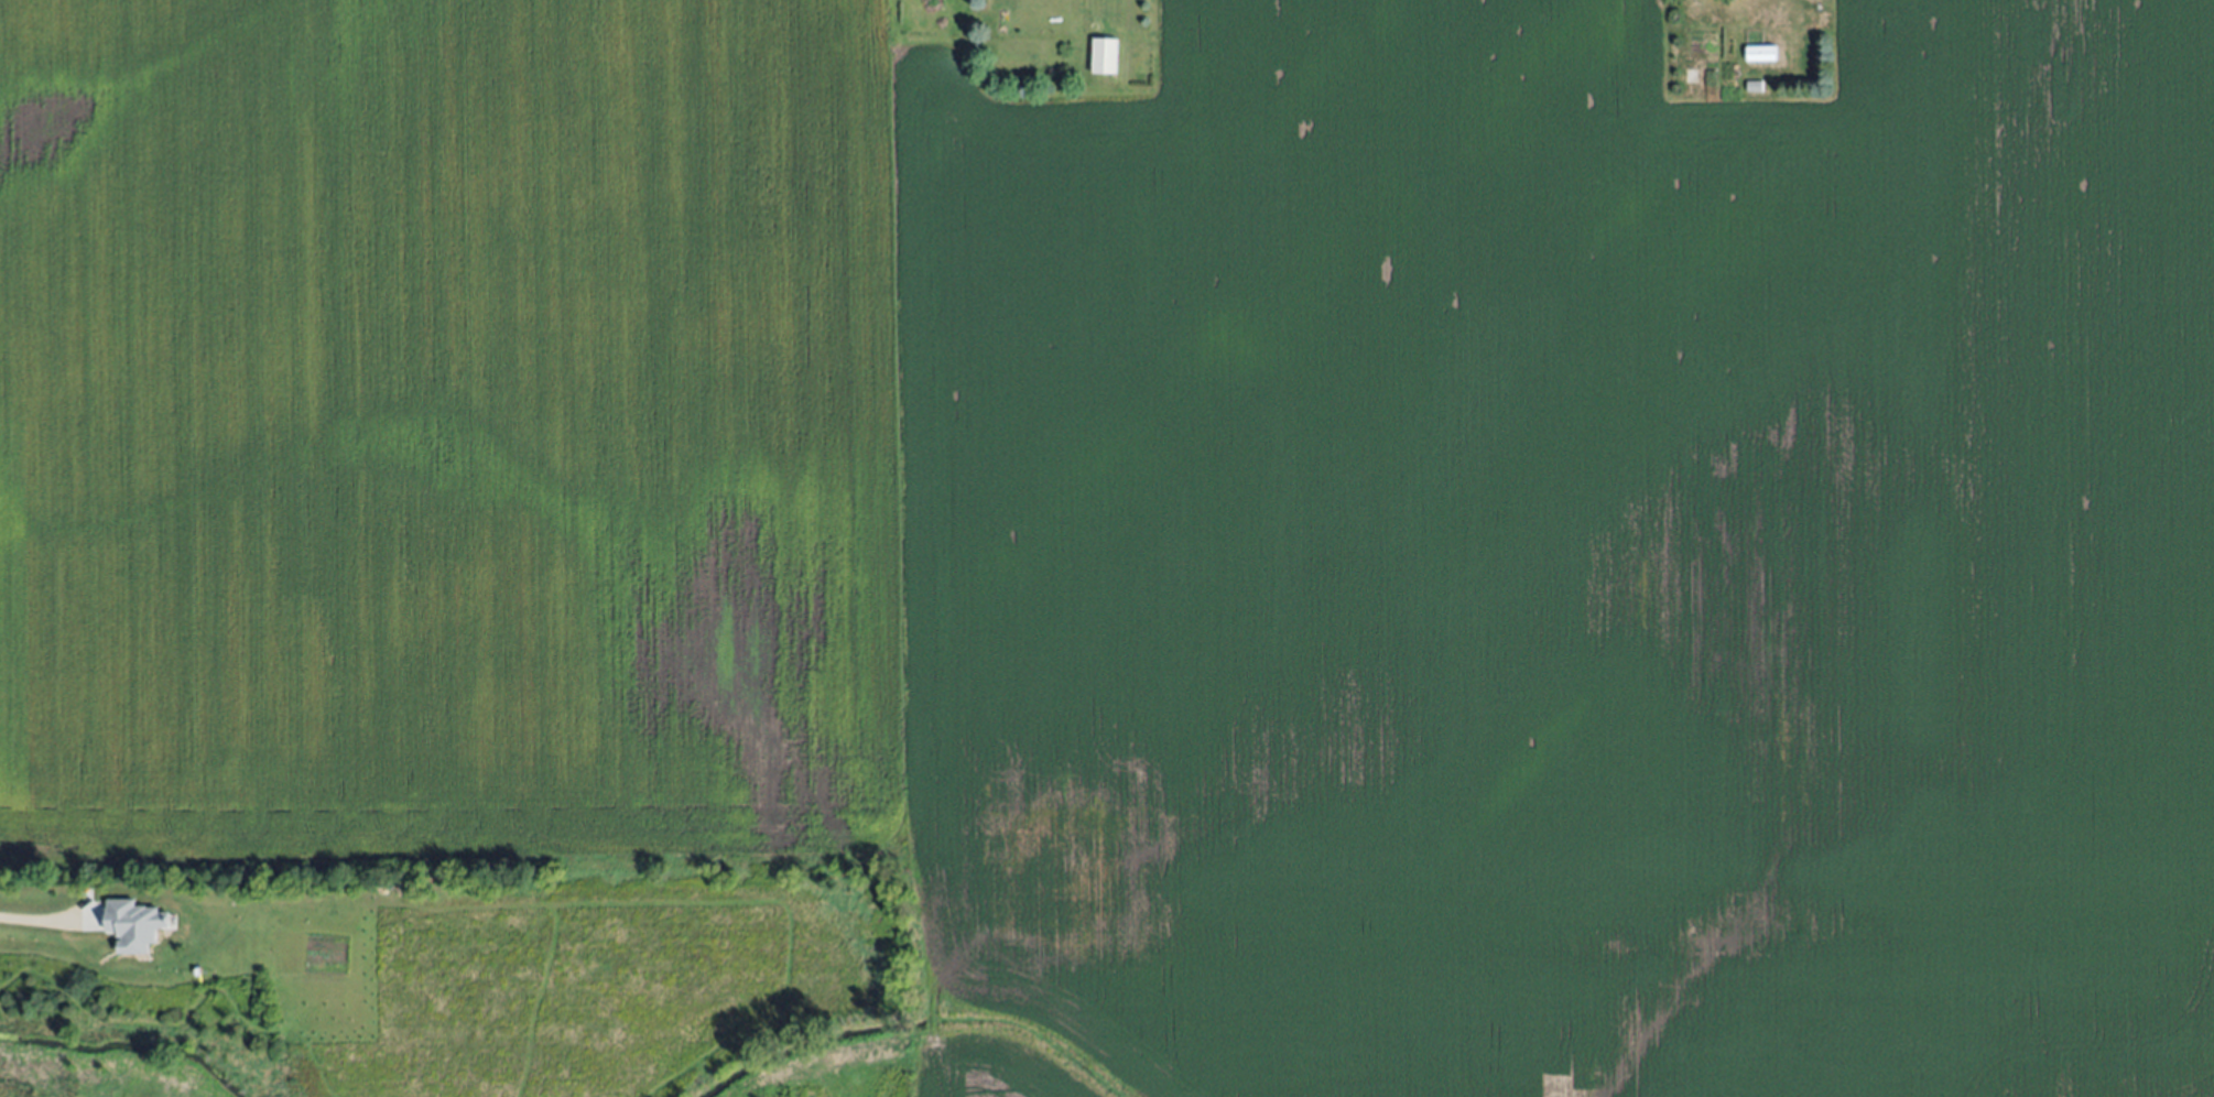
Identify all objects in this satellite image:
building: (1759, 53)
building: (1100, 55)
building: (1752, 86)
road: (39, 916)
building: (134, 925)

